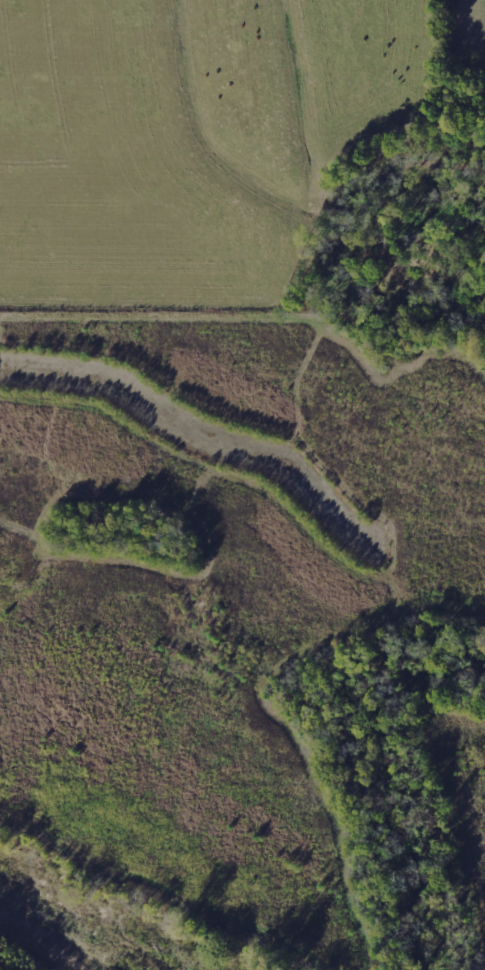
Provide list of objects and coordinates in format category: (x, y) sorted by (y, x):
river: (31, 952)

